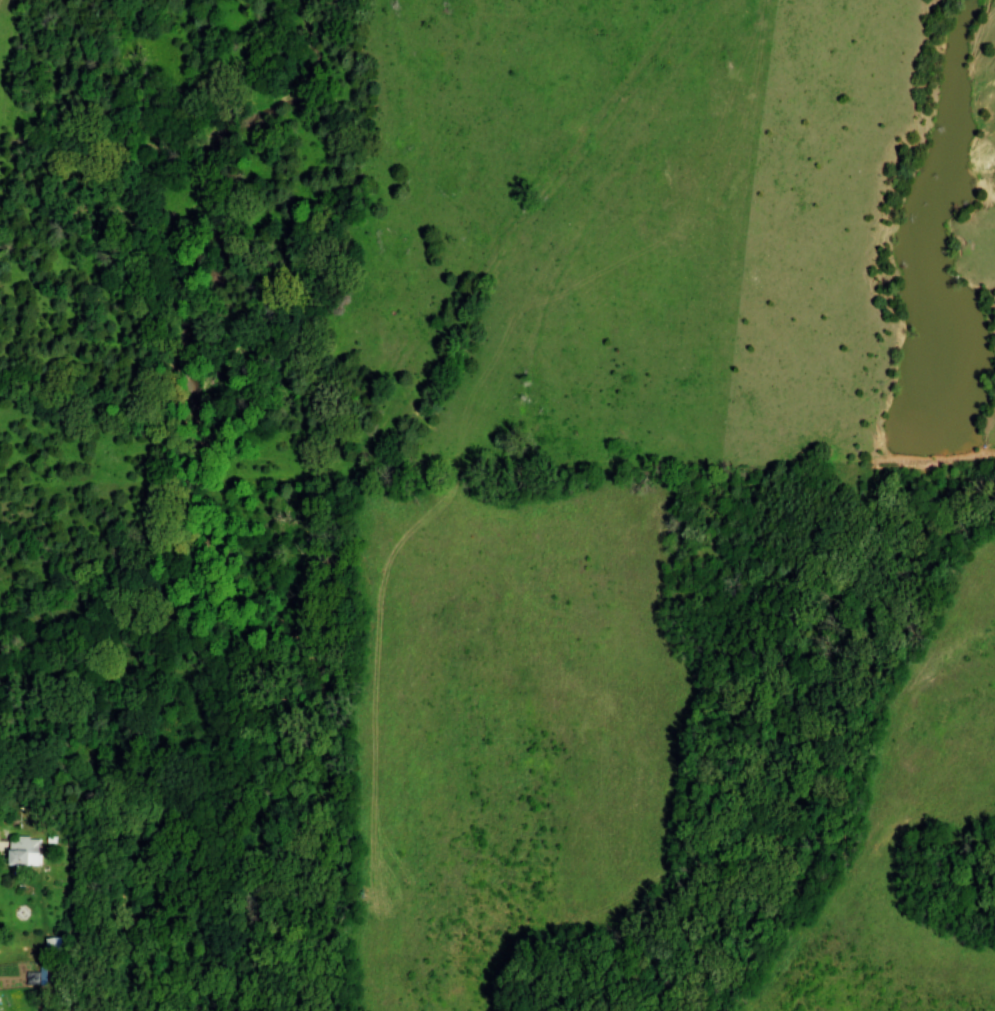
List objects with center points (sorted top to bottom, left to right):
building: (24, 854)

